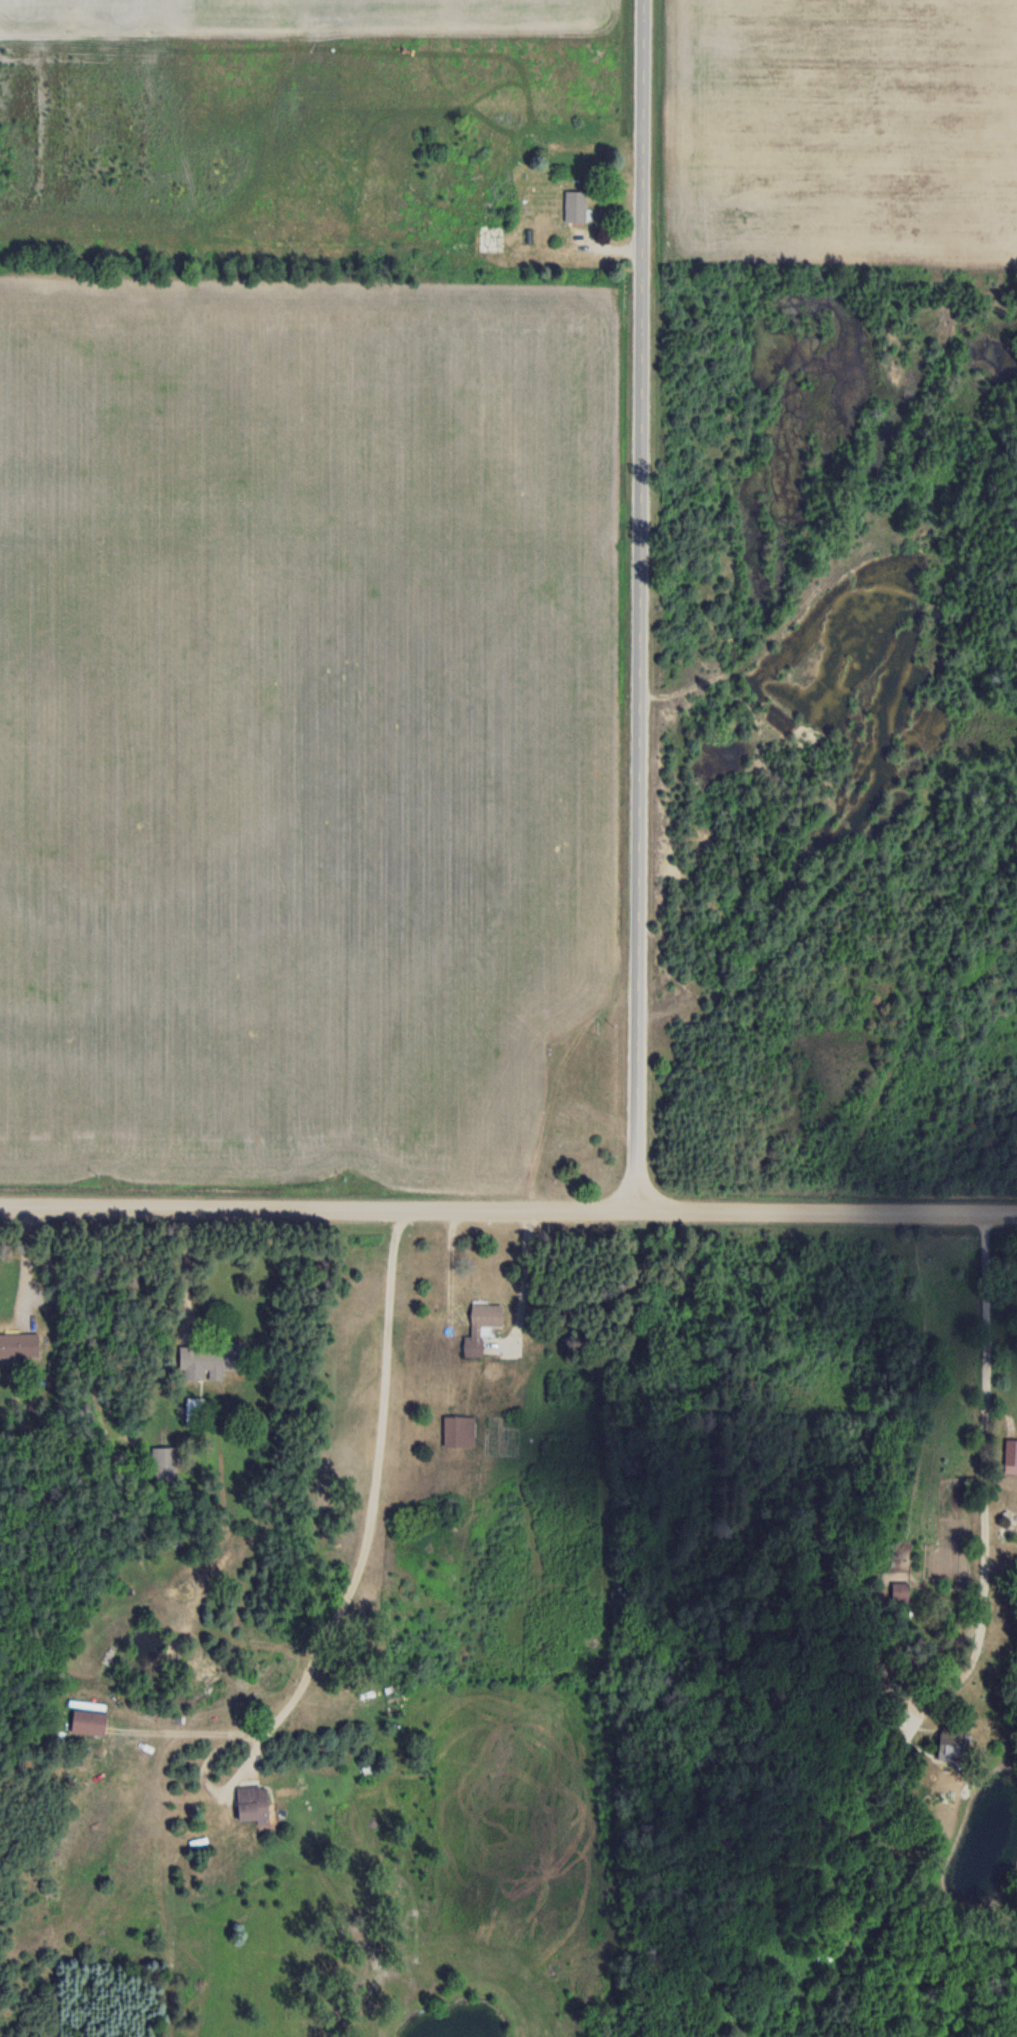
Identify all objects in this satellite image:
building: (575, 205)
building: (491, 238)
road: (646, 606)
building: (571, 1126)
road: (508, 1211)
road: (515, 1276)
building: (480, 1326)
building: (19, 1345)
building: (209, 1361)
building: (193, 1410)
building: (458, 1430)
building: (1010, 1456)
building: (164, 1464)
road: (354, 1571)
building: (900, 1591)
road: (957, 1635)
building: (87, 1722)
building: (949, 1742)
building: (251, 1803)

